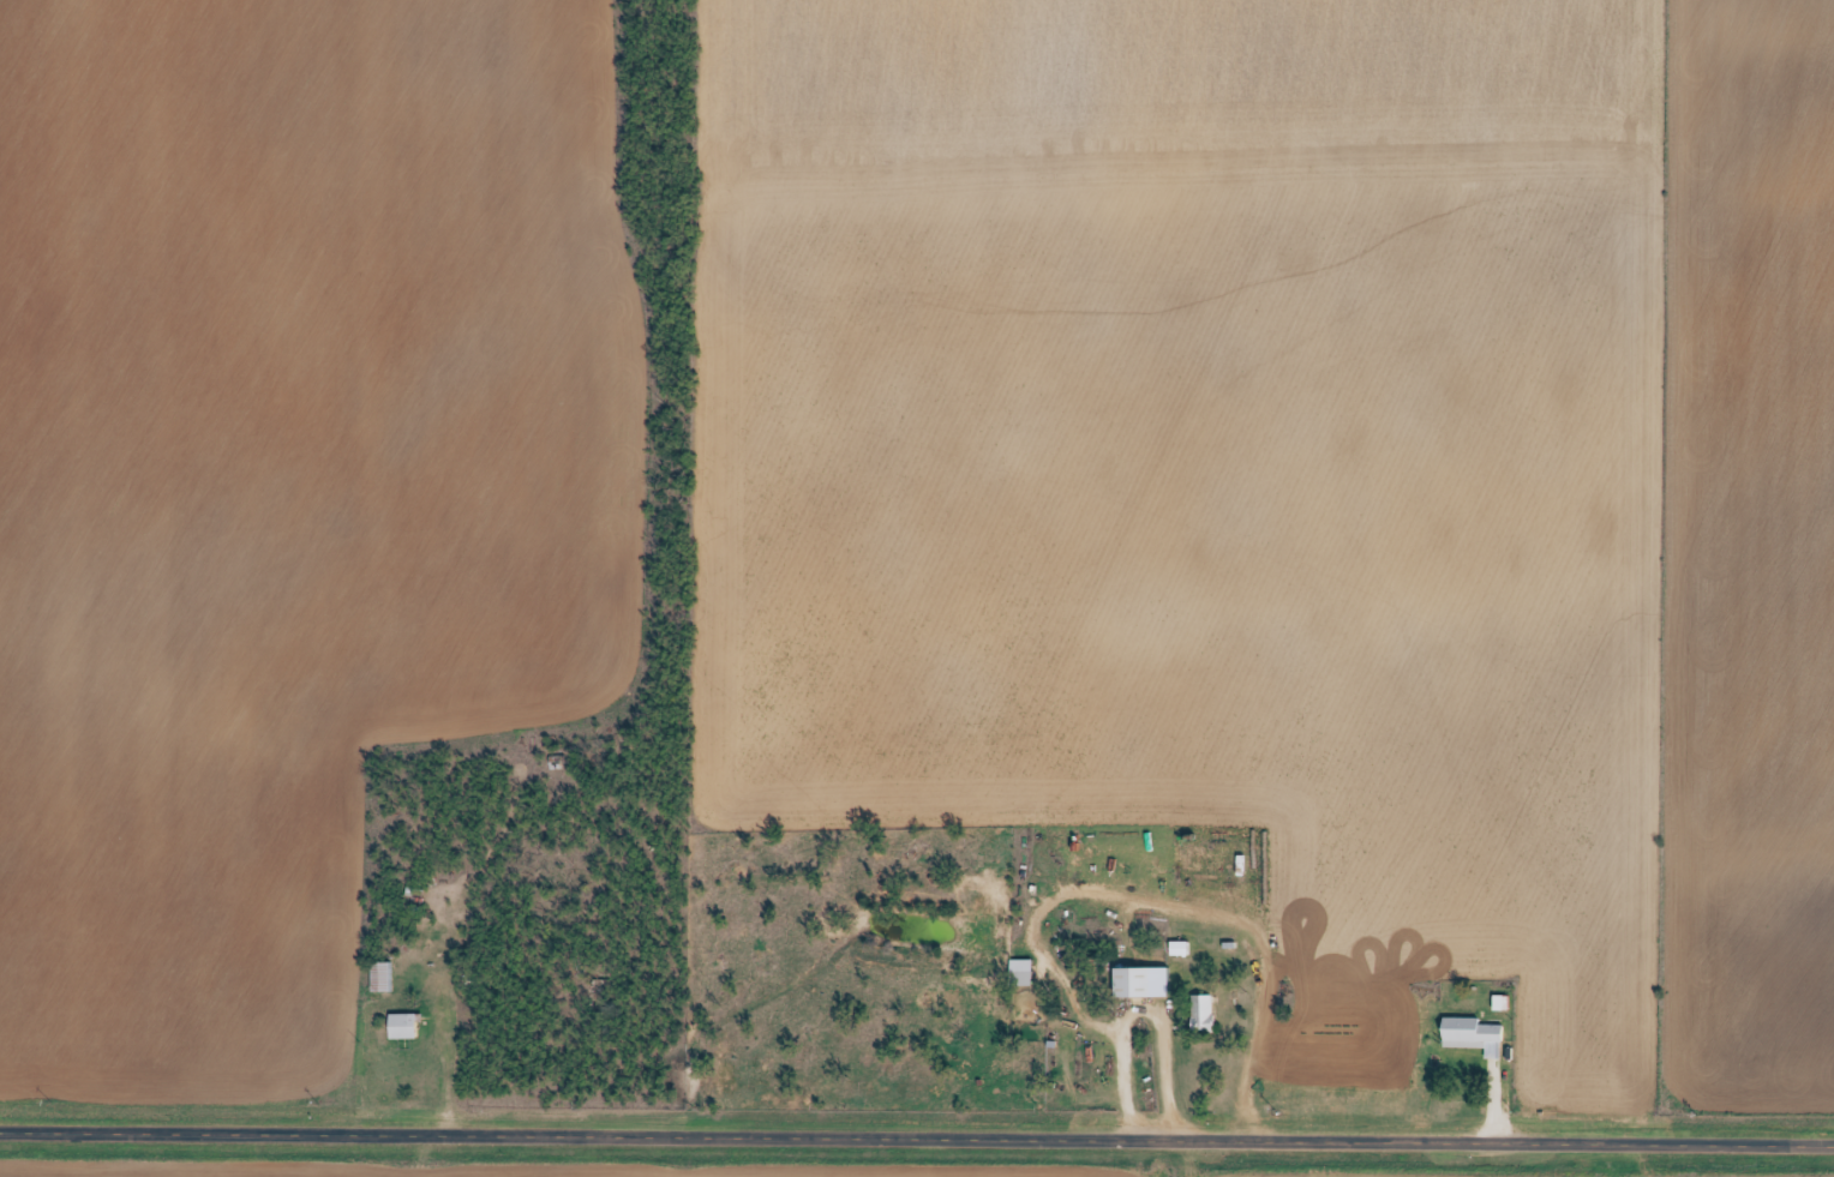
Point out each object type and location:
building: (408, 899)
building: (1180, 949)
building: (1023, 973)
building: (380, 977)
building: (1133, 983)
building: (1500, 1003)
building: (1204, 1011)
building: (402, 1026)
building: (1474, 1035)
road: (917, 1130)

